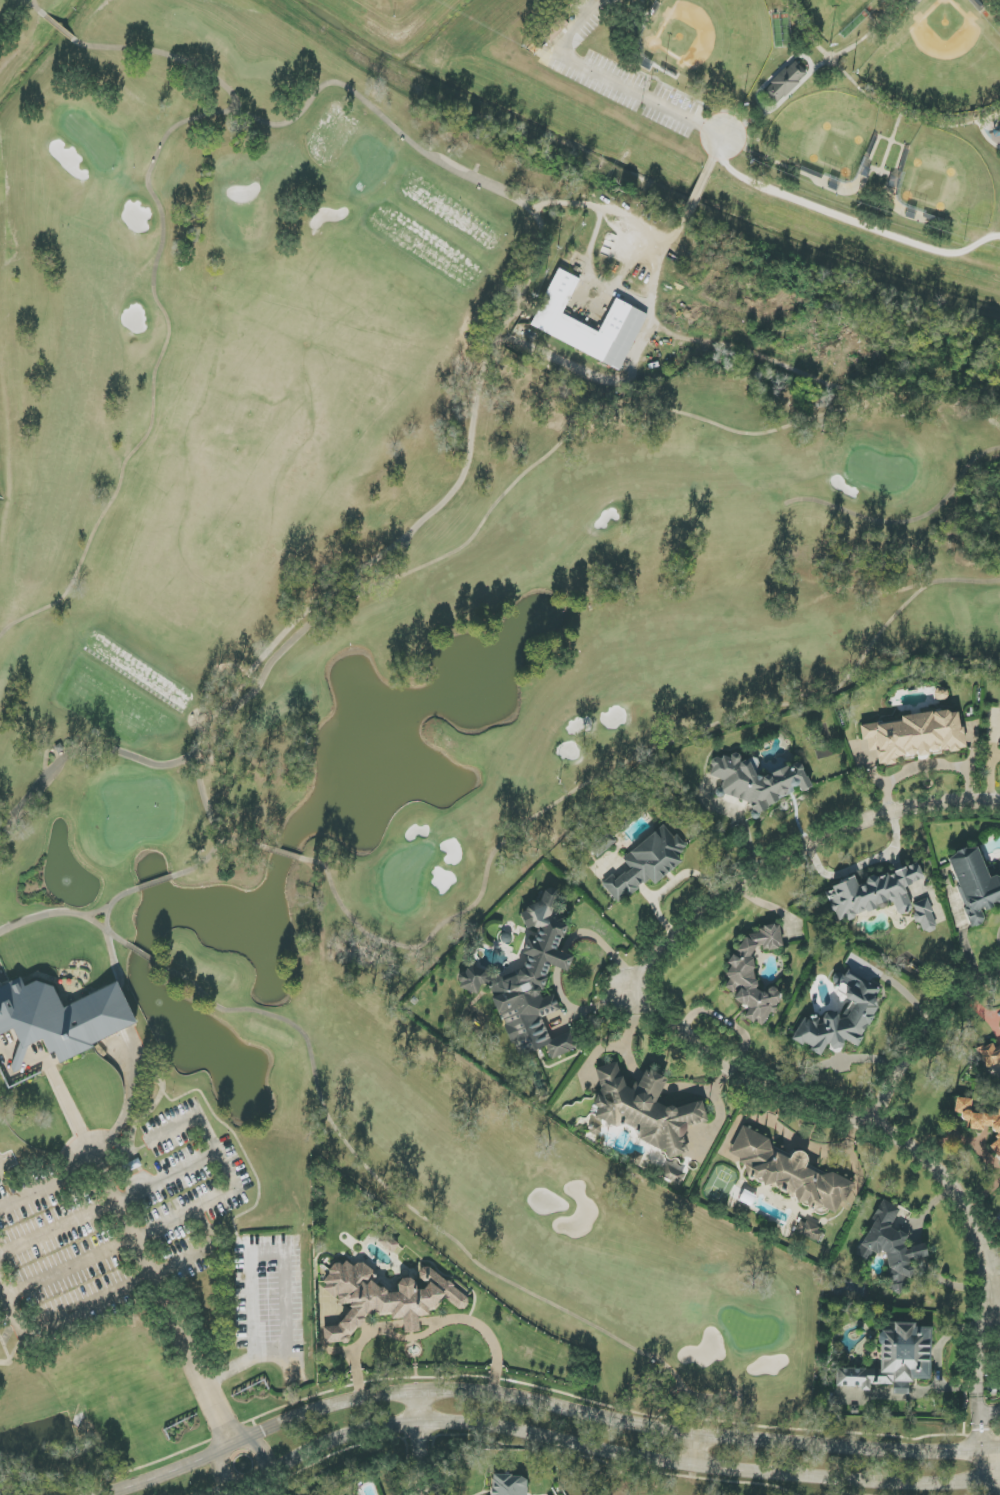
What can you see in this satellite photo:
road: (997, 2)
park: (798, 81)
building: (784, 82)
road: (610, 84)
road: (879, 91)
road: (846, 219)
road: (653, 236)
road: (631, 298)
building: (555, 322)
road: (506, 326)
park: (389, 684)
building: (914, 736)
road: (926, 768)
building: (757, 781)
road: (993, 805)
building: (603, 846)
road: (785, 857)
building: (647, 863)
road: (860, 866)
building: (974, 884)
building: (873, 893)
building: (924, 916)
building: (753, 975)
building: (529, 983)
building: (859, 1012)
building: (61, 1018)
road: (724, 1020)
road: (922, 1033)
road: (837, 1061)
building: (644, 1110)
road: (845, 1113)
building: (979, 1121)
road: (80, 1131)
building: (674, 1172)
building: (789, 1172)
road: (32, 1198)
road: (108, 1205)
road: (183, 1214)
road: (990, 1229)
building: (810, 1231)
road: (135, 1238)
building: (890, 1245)
road: (203, 1252)
road: (274, 1252)
building: (385, 1298)
road: (996, 1309)
road: (64, 1316)
road: (411, 1322)
road: (484, 1330)
road: (411, 1337)
road: (358, 1347)
building: (894, 1360)
road: (243, 1365)
road: (977, 1389)
road: (611, 1421)
road: (418, 1444)
road: (257, 1447)
road: (698, 1449)
road: (625, 1452)
road: (218, 1463)
road: (172, 1469)
road: (998, 1472)
road: (998, 1483)
road: (250, 1485)
building: (509, 1485)
road: (218, 1490)

